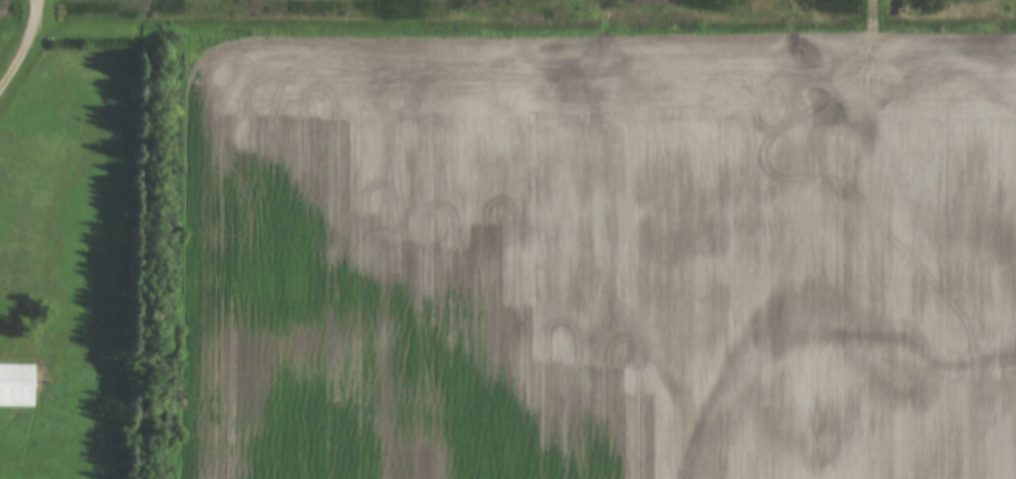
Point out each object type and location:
road: (26, 48)
building: (16, 386)

